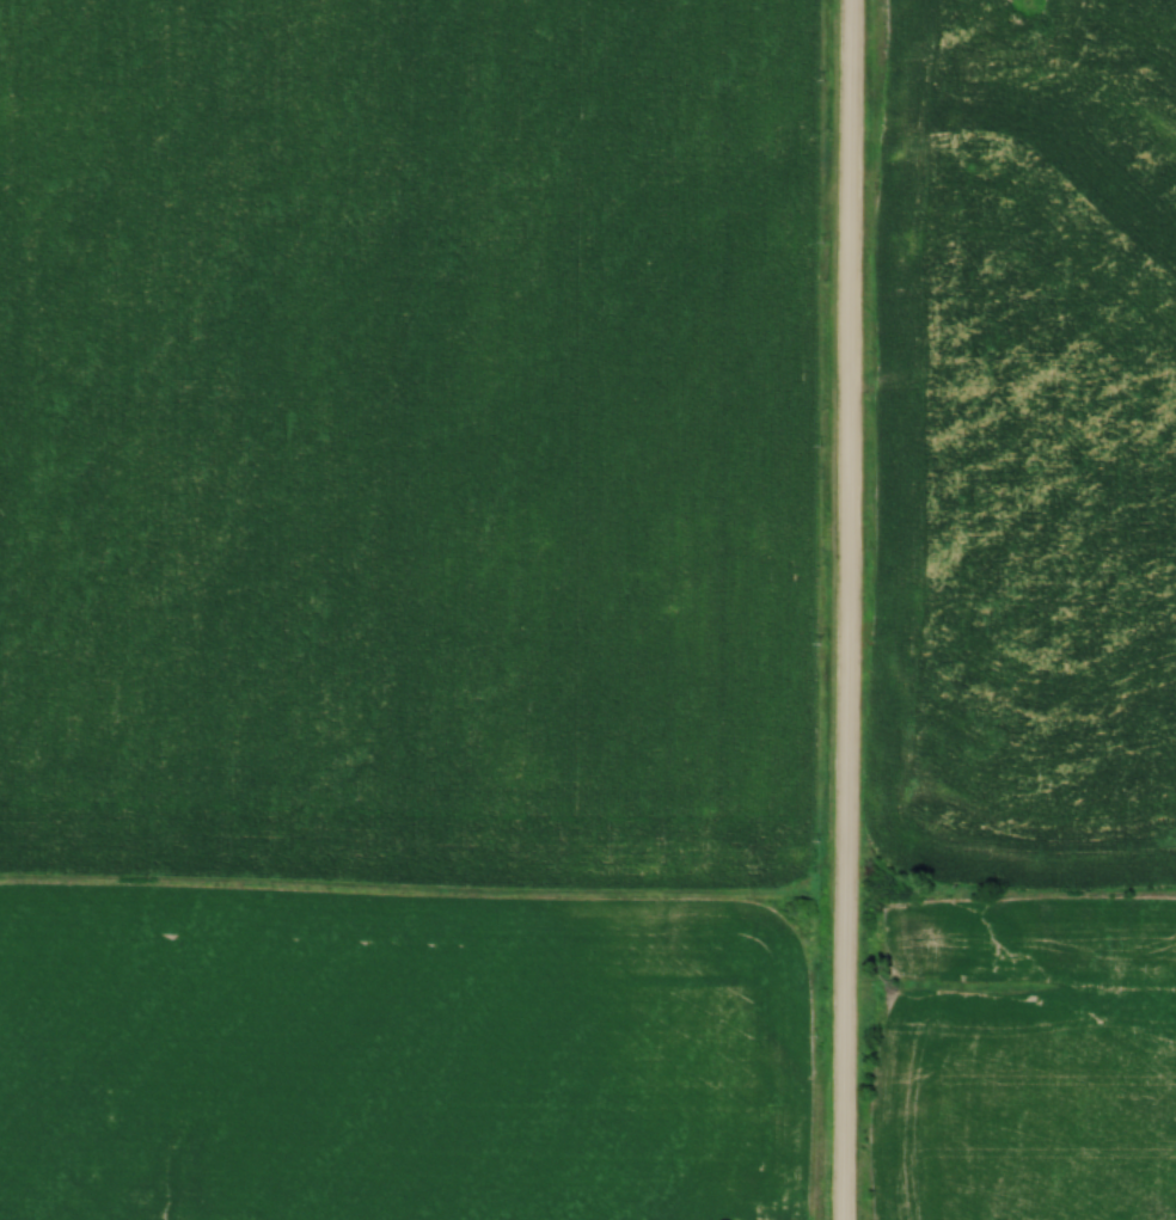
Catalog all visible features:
road: (844, 609)

